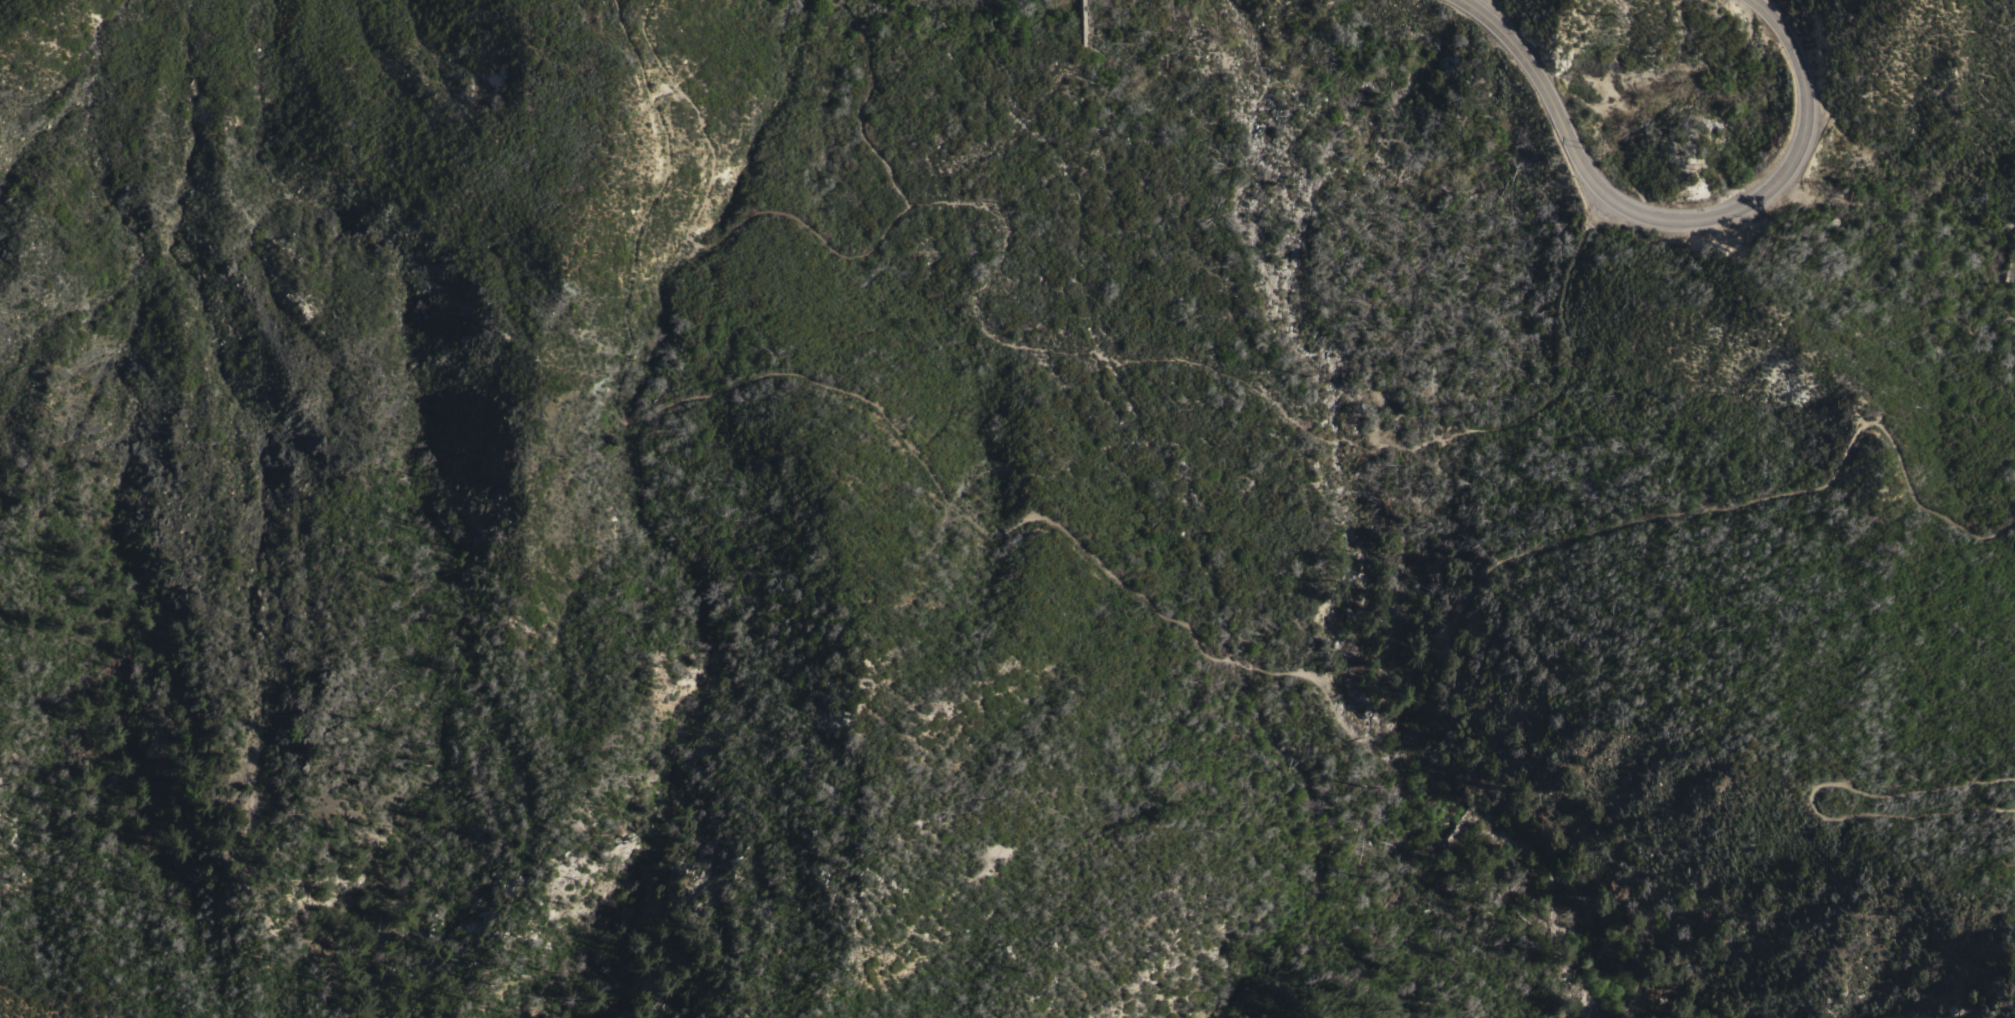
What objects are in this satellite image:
road: (802, 224)
road: (1681, 225)
road: (1568, 350)
road: (1117, 357)
road: (1402, 572)
road: (1163, 620)
road: (1809, 795)

